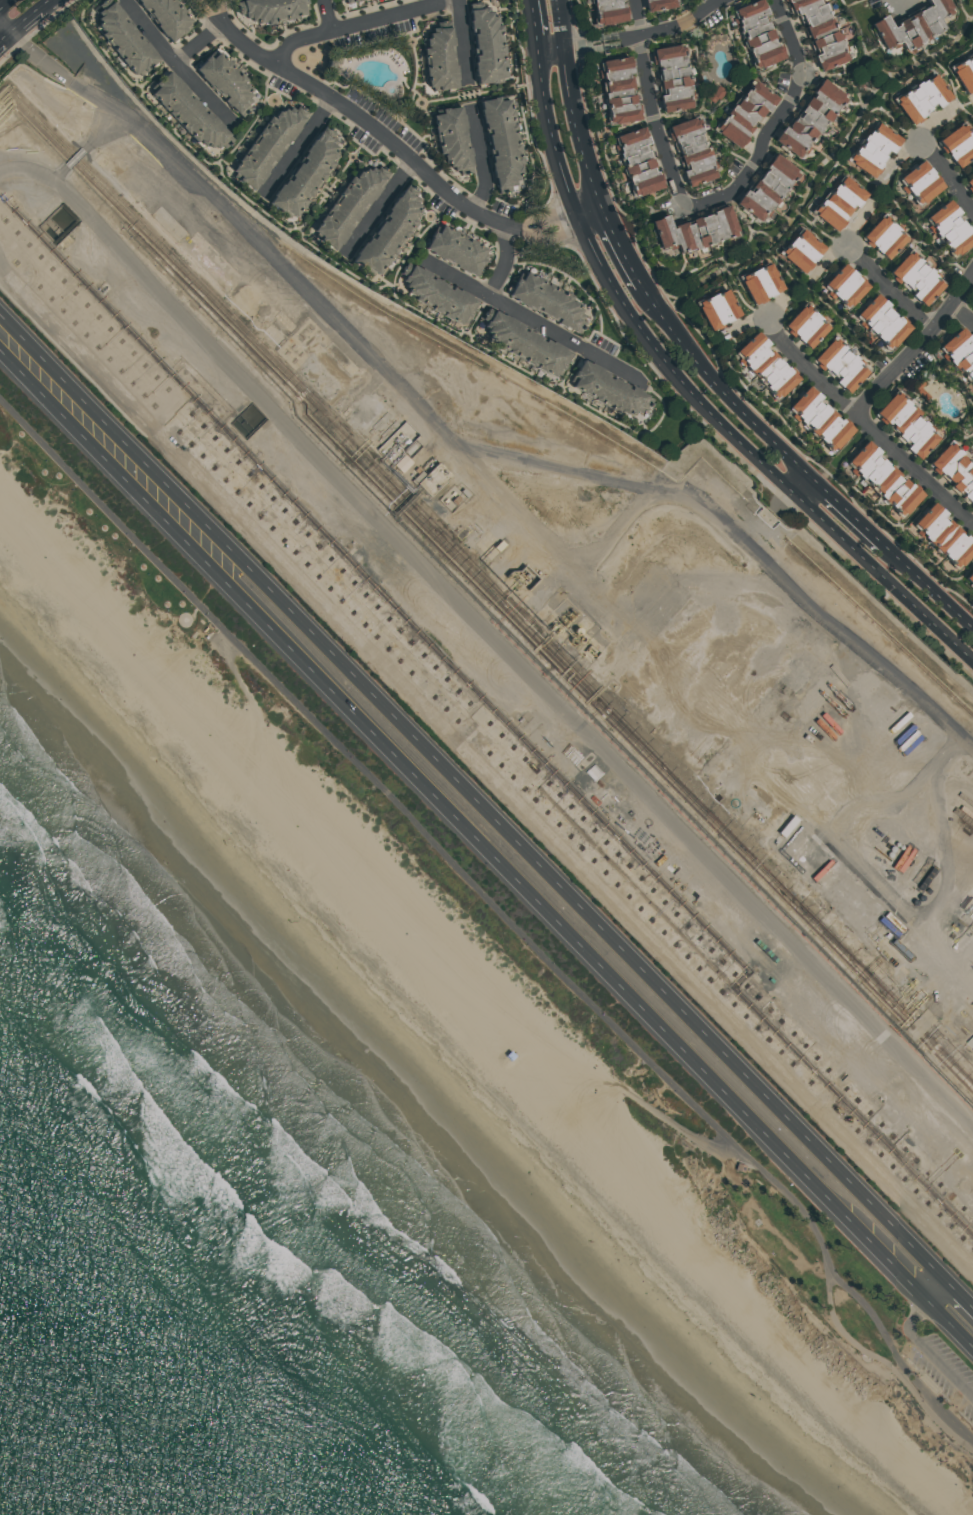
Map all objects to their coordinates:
building: (339, 0)
building: (348, 1)
road: (2, 2)
building: (659, 4)
road: (967, 9)
building: (270, 10)
building: (605, 12)
road: (29, 14)
road: (329, 15)
building: (165, 17)
road: (636, 18)
road: (680, 22)
road: (360, 23)
road: (561, 23)
road: (534, 25)
building: (913, 25)
road: (4, 26)
building: (757, 32)
building: (821, 33)
road: (4, 35)
road: (620, 39)
building: (123, 41)
road: (463, 41)
road: (200, 43)
road: (582, 45)
building: (484, 47)
road: (551, 48)
road: (38, 58)
building: (437, 60)
road: (182, 69)
building: (966, 72)
building: (673, 77)
building: (224, 83)
building: (619, 90)
building: (715, 93)
building: (922, 98)
building: (746, 112)
building: (187, 113)
building: (811, 117)
road: (654, 122)
road: (776, 122)
road: (579, 128)
road: (103, 130)
building: (450, 140)
building: (499, 143)
building: (960, 145)
building: (264, 147)
road: (300, 147)
road: (396, 147)
building: (874, 149)
building: (692, 150)
road: (75, 157)
road: (484, 160)
building: (638, 160)
road: (59, 174)
road: (945, 174)
building: (303, 177)
building: (922, 182)
building: (971, 182)
building: (767, 189)
building: (840, 202)
building: (345, 207)
road: (381, 209)
building: (952, 227)
helipad: (281, 230)
building: (696, 230)
building: (386, 235)
building: (884, 237)
road: (622, 246)
building: (454, 250)
building: (804, 251)
road: (503, 261)
building: (917, 280)
building: (761, 283)
building: (848, 285)
road: (888, 288)
building: (437, 297)
building: (545, 302)
building: (719, 310)
road: (962, 314)
road: (526, 315)
building: (283, 321)
building: (886, 322)
building: (808, 327)
building: (272, 335)
road: (916, 344)
building: (523, 345)
building: (961, 353)
building: (768, 363)
road: (812, 364)
building: (842, 366)
road: (720, 387)
building: (921, 388)
building: (606, 391)
road: (693, 395)
building: (822, 416)
building: (377, 423)
building: (907, 426)
building: (394, 441)
road: (109, 444)
road: (914, 465)
road: (560, 468)
building: (957, 469)
building: (429, 477)
building: (884, 480)
road: (804, 487)
building: (451, 494)
building: (463, 494)
building: (444, 501)
building: (454, 501)
road: (510, 501)
road: (849, 513)
building: (944, 536)
building: (498, 546)
building: (969, 579)
road: (929, 587)
building: (532, 605)
road: (492, 632)
building: (574, 633)
building: (580, 640)
building: (572, 641)
road: (486, 770)
building: (965, 813)
building: (785, 827)
road: (498, 909)
road: (590, 910)
road: (569, 933)
road: (683, 1128)
road: (962, 1290)
road: (951, 1323)
road: (847, 1334)
road: (920, 1340)
parking lot: (945, 1372)

